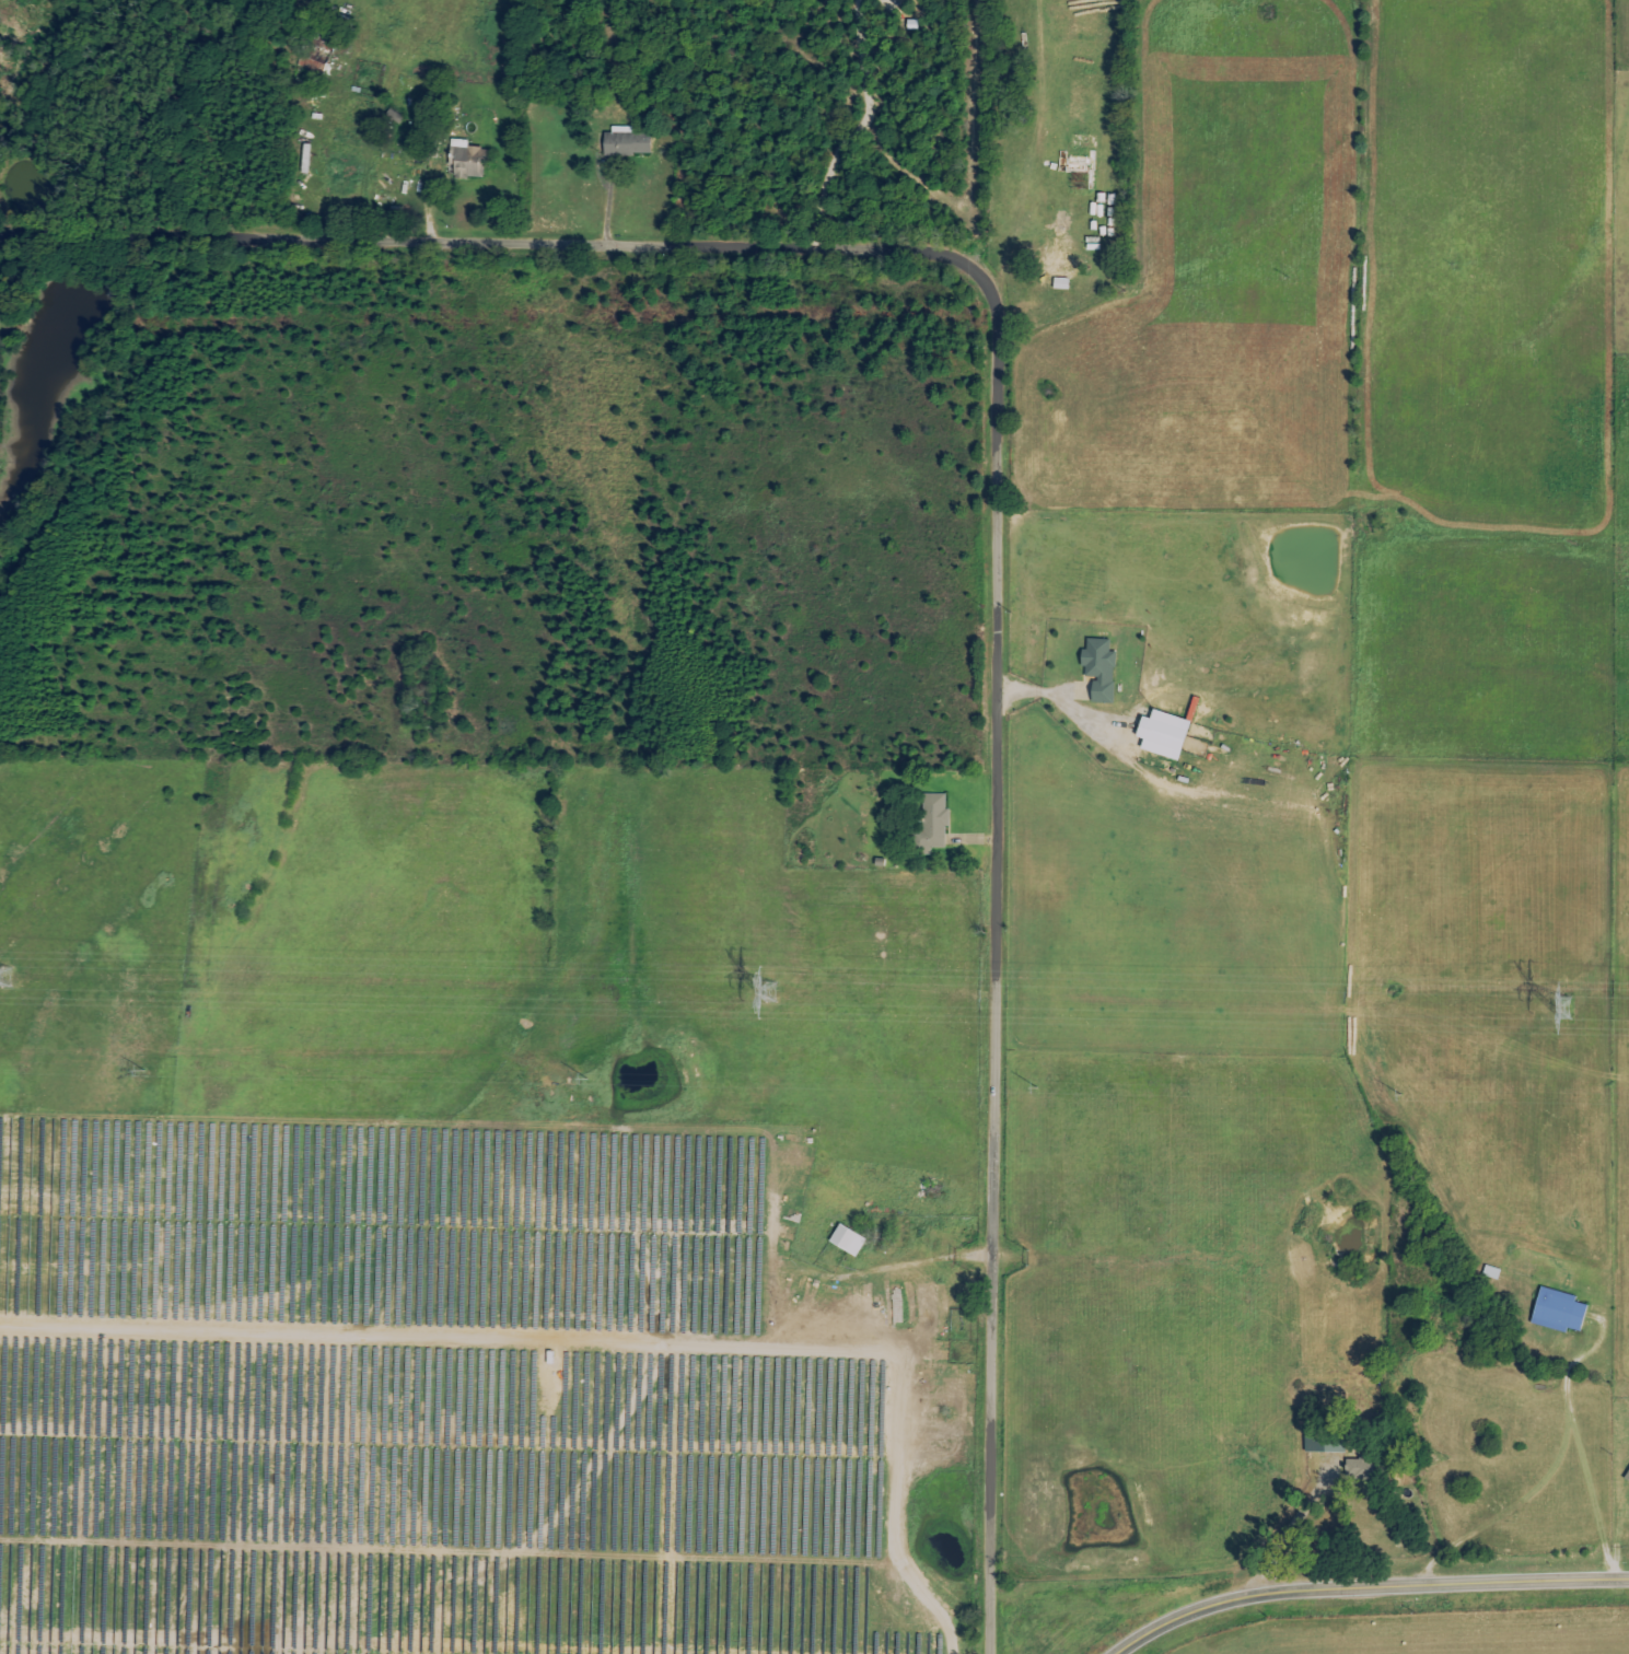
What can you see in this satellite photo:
building: (625, 142)
building: (468, 161)
building: (1060, 271)
road: (1004, 464)
building: (1098, 668)
building: (1162, 734)
building: (933, 820)
power tower: (7, 977)
power tower: (771, 989)
power tower: (1566, 1007)
building: (846, 1239)
building: (1557, 1311)
building: (1324, 1444)
road: (1582, 1451)
building: (1627, 1478)
road: (1517, 1509)
road: (1292, 1527)
road: (1361, 1582)

